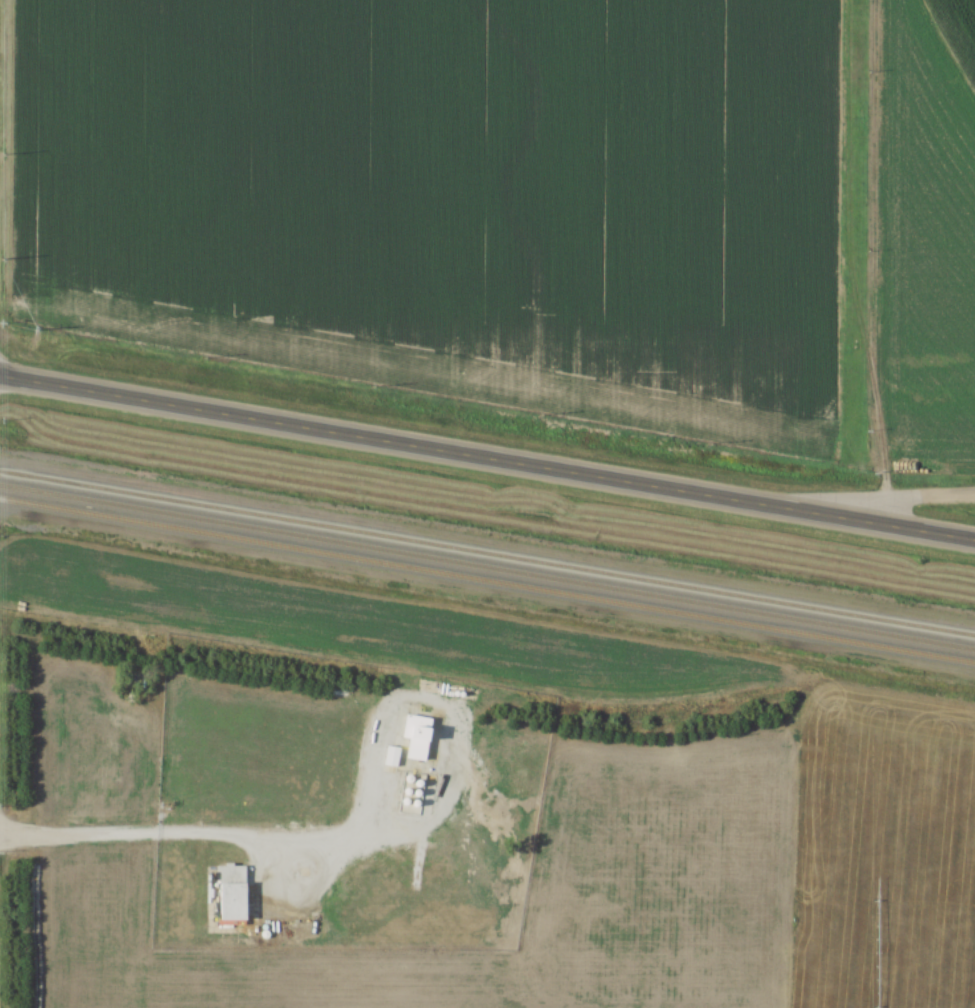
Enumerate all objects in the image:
crop: (449, 194)
road: (487, 457)
road: (898, 496)
railway: (487, 552)
railway: (487, 566)
railway: (487, 579)
building: (418, 728)
road: (123, 835)
building: (232, 892)
crop: (662, 899)
road: (299, 903)

